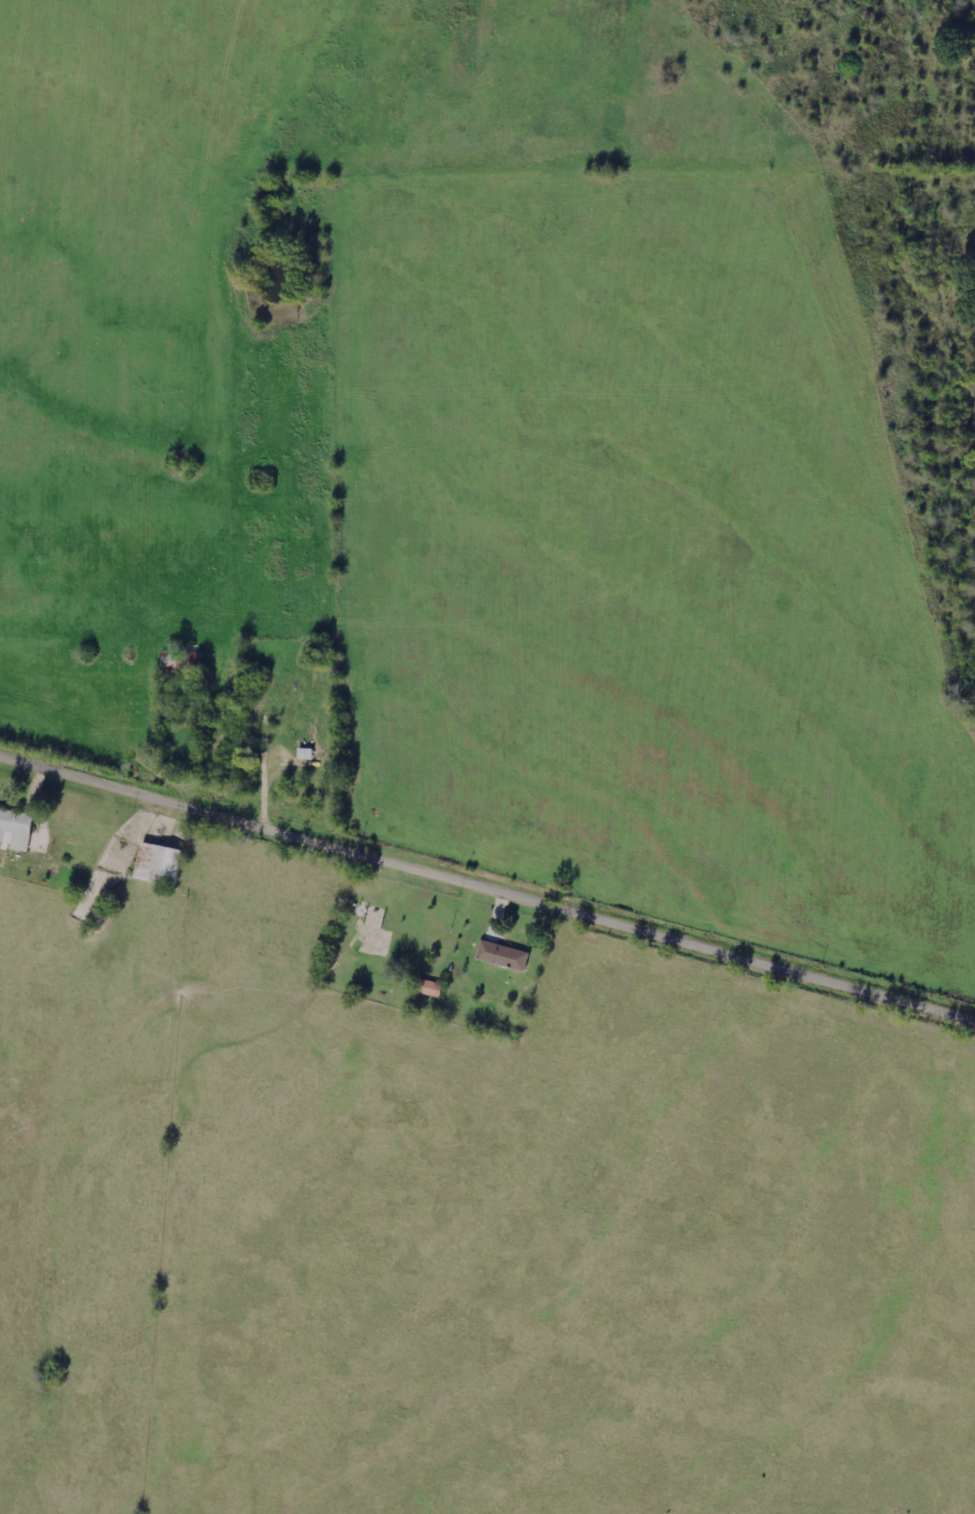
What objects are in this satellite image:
building: (16, 829)
building: (157, 863)
road: (487, 890)
building: (377, 930)
building: (503, 955)
building: (429, 987)

